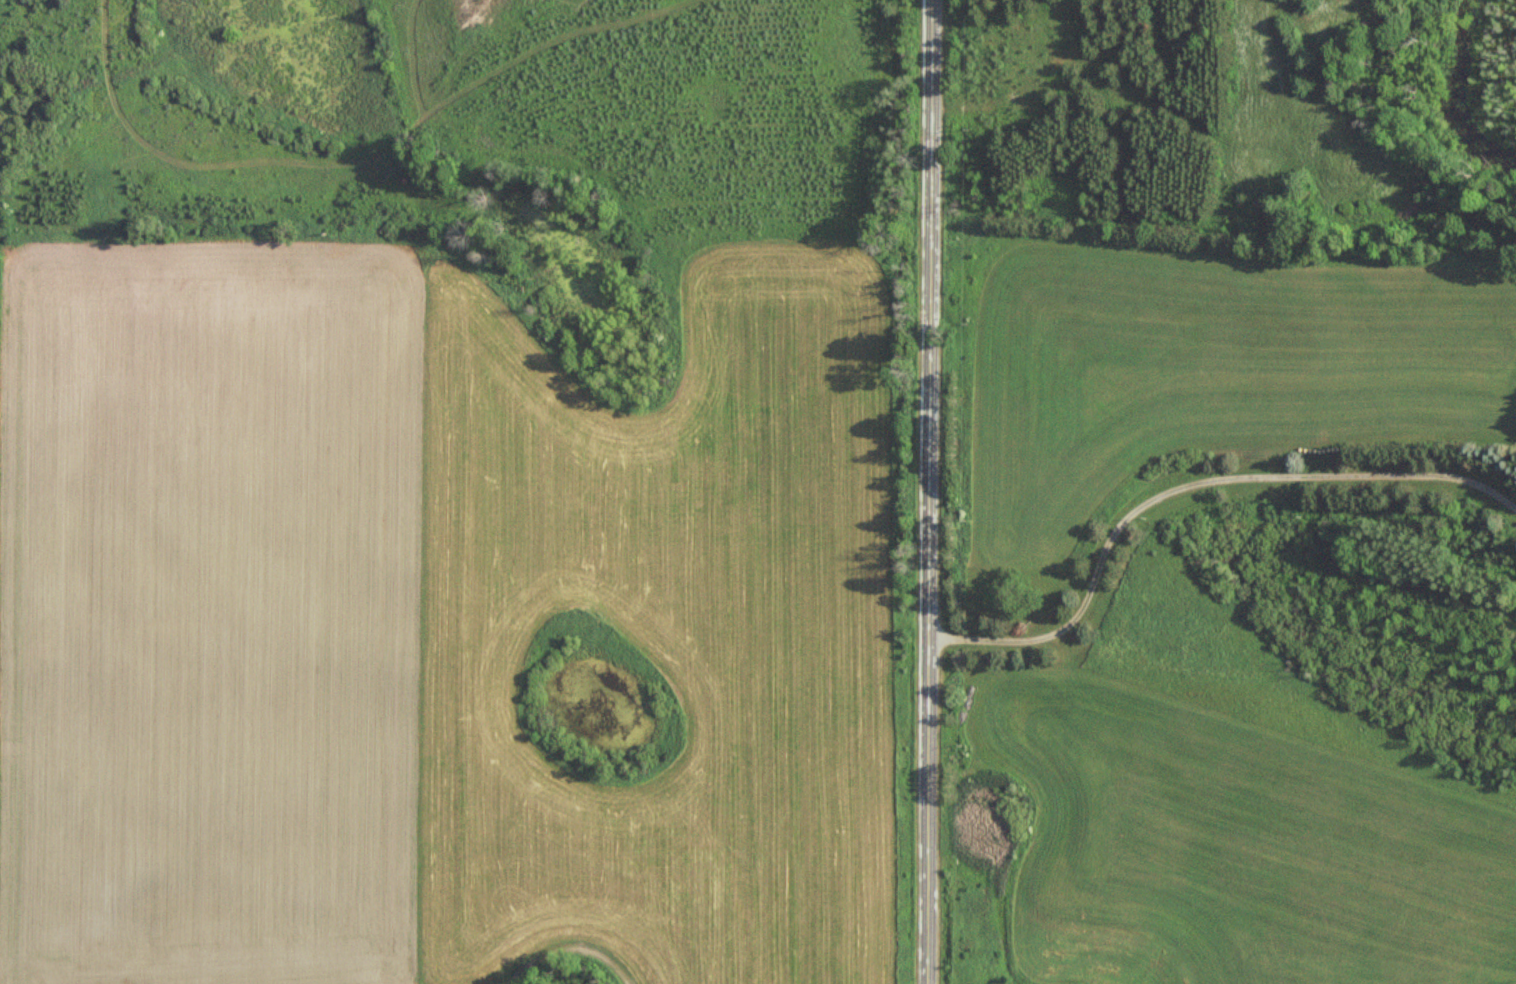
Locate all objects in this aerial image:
road: (1189, 485)
road: (930, 492)

